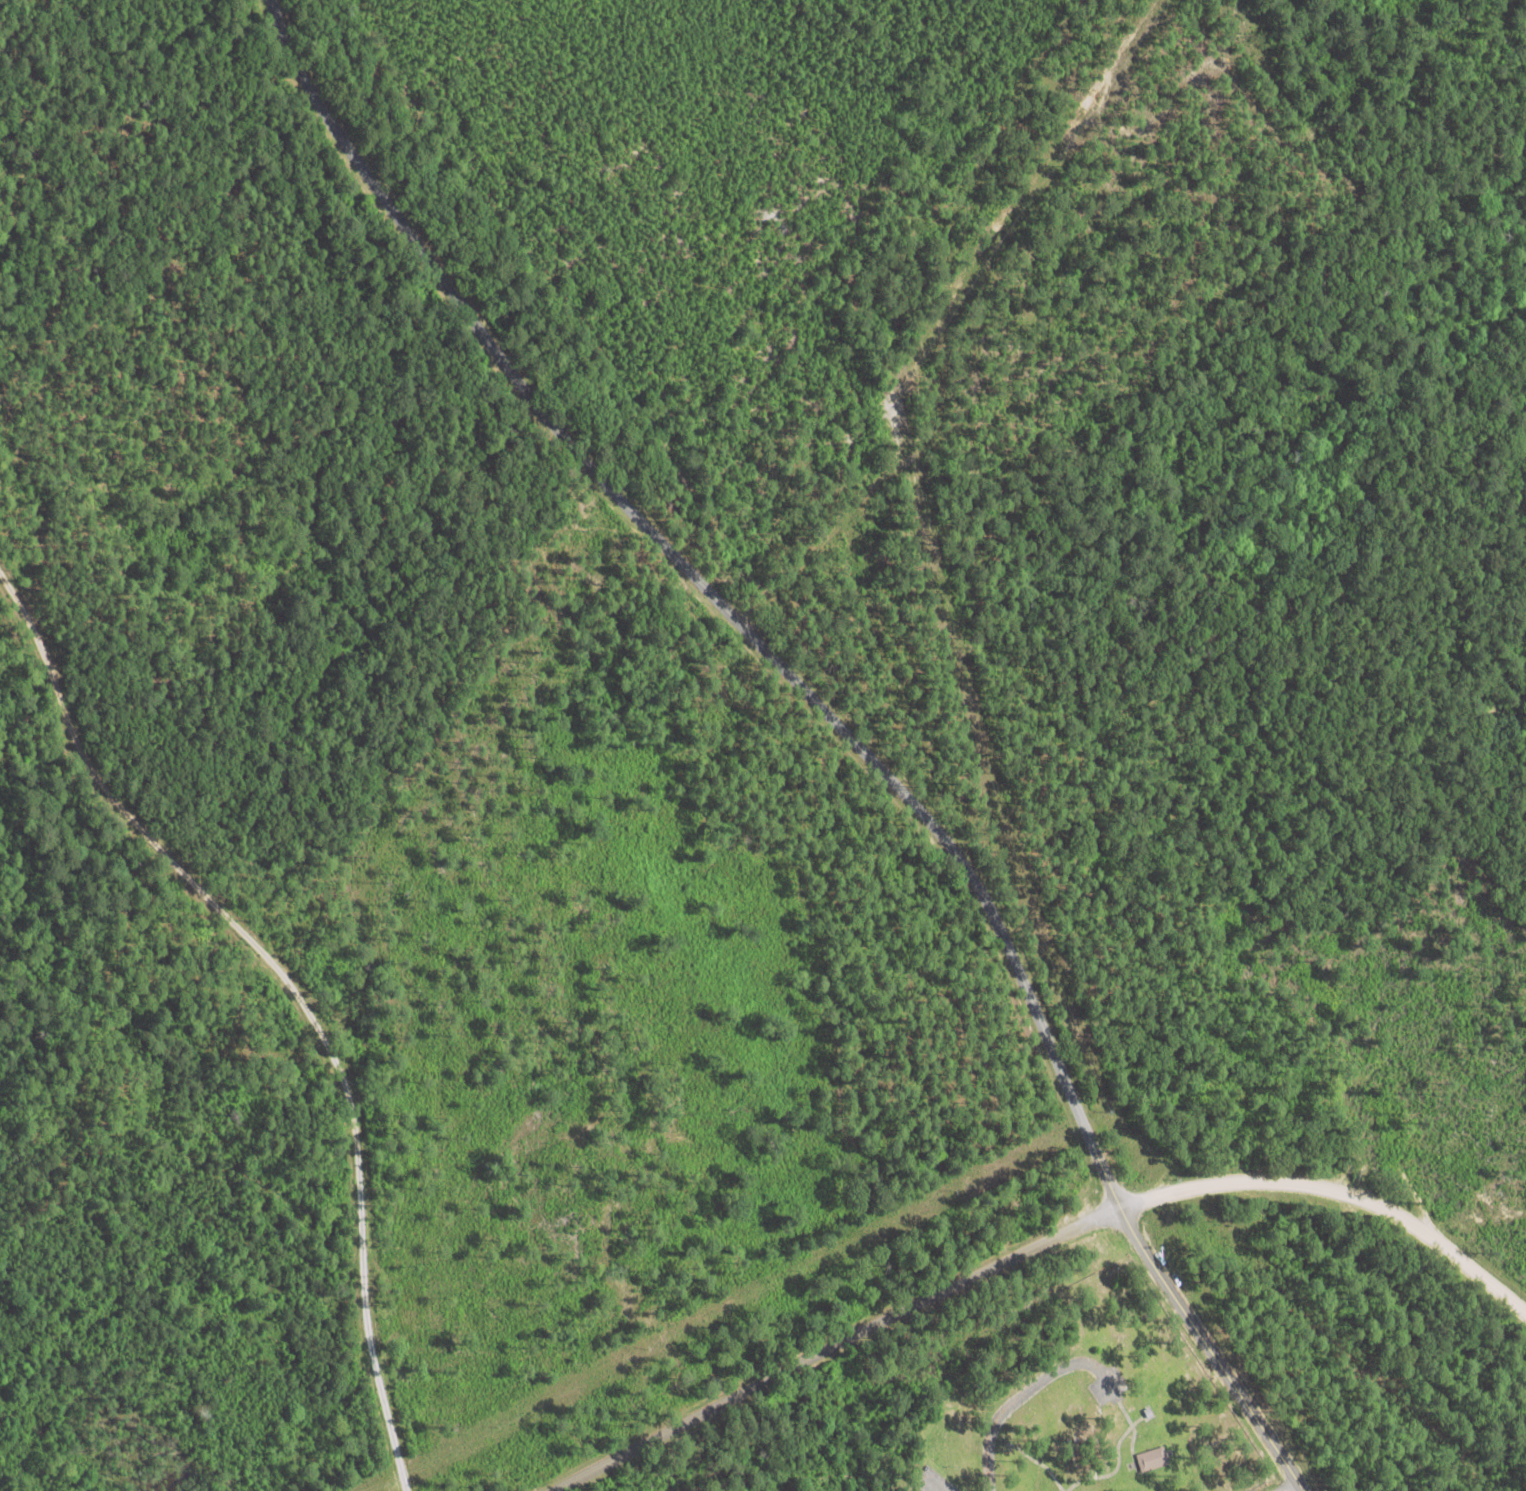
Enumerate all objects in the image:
road: (944, 577)
road: (824, 729)
road: (295, 990)
road: (1346, 1194)
road: (842, 1346)
road: (1025, 1393)
park: (1029, 1413)
building: (1158, 1461)
road: (944, 1480)
road: (1307, 1489)

